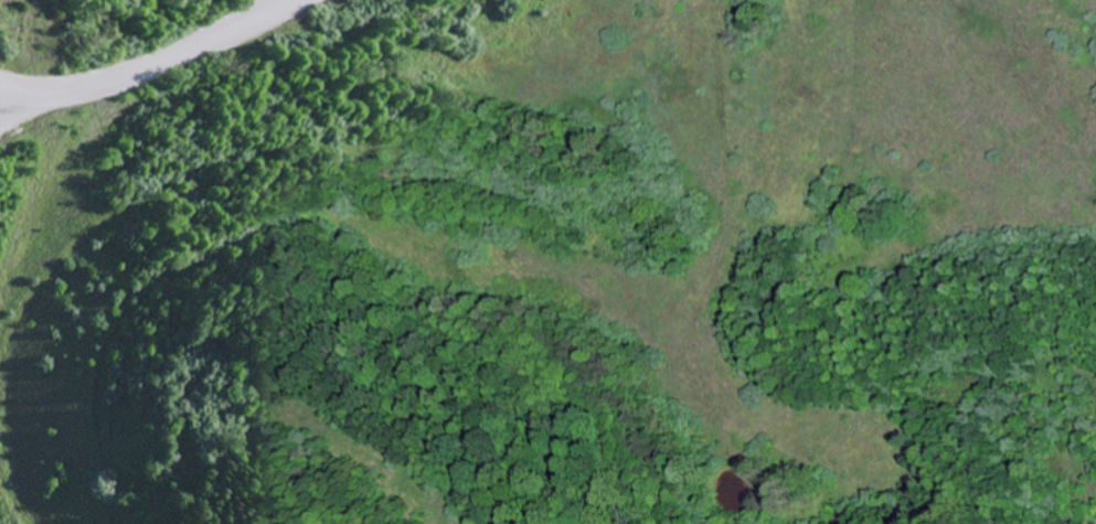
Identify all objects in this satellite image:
road: (183, 75)

